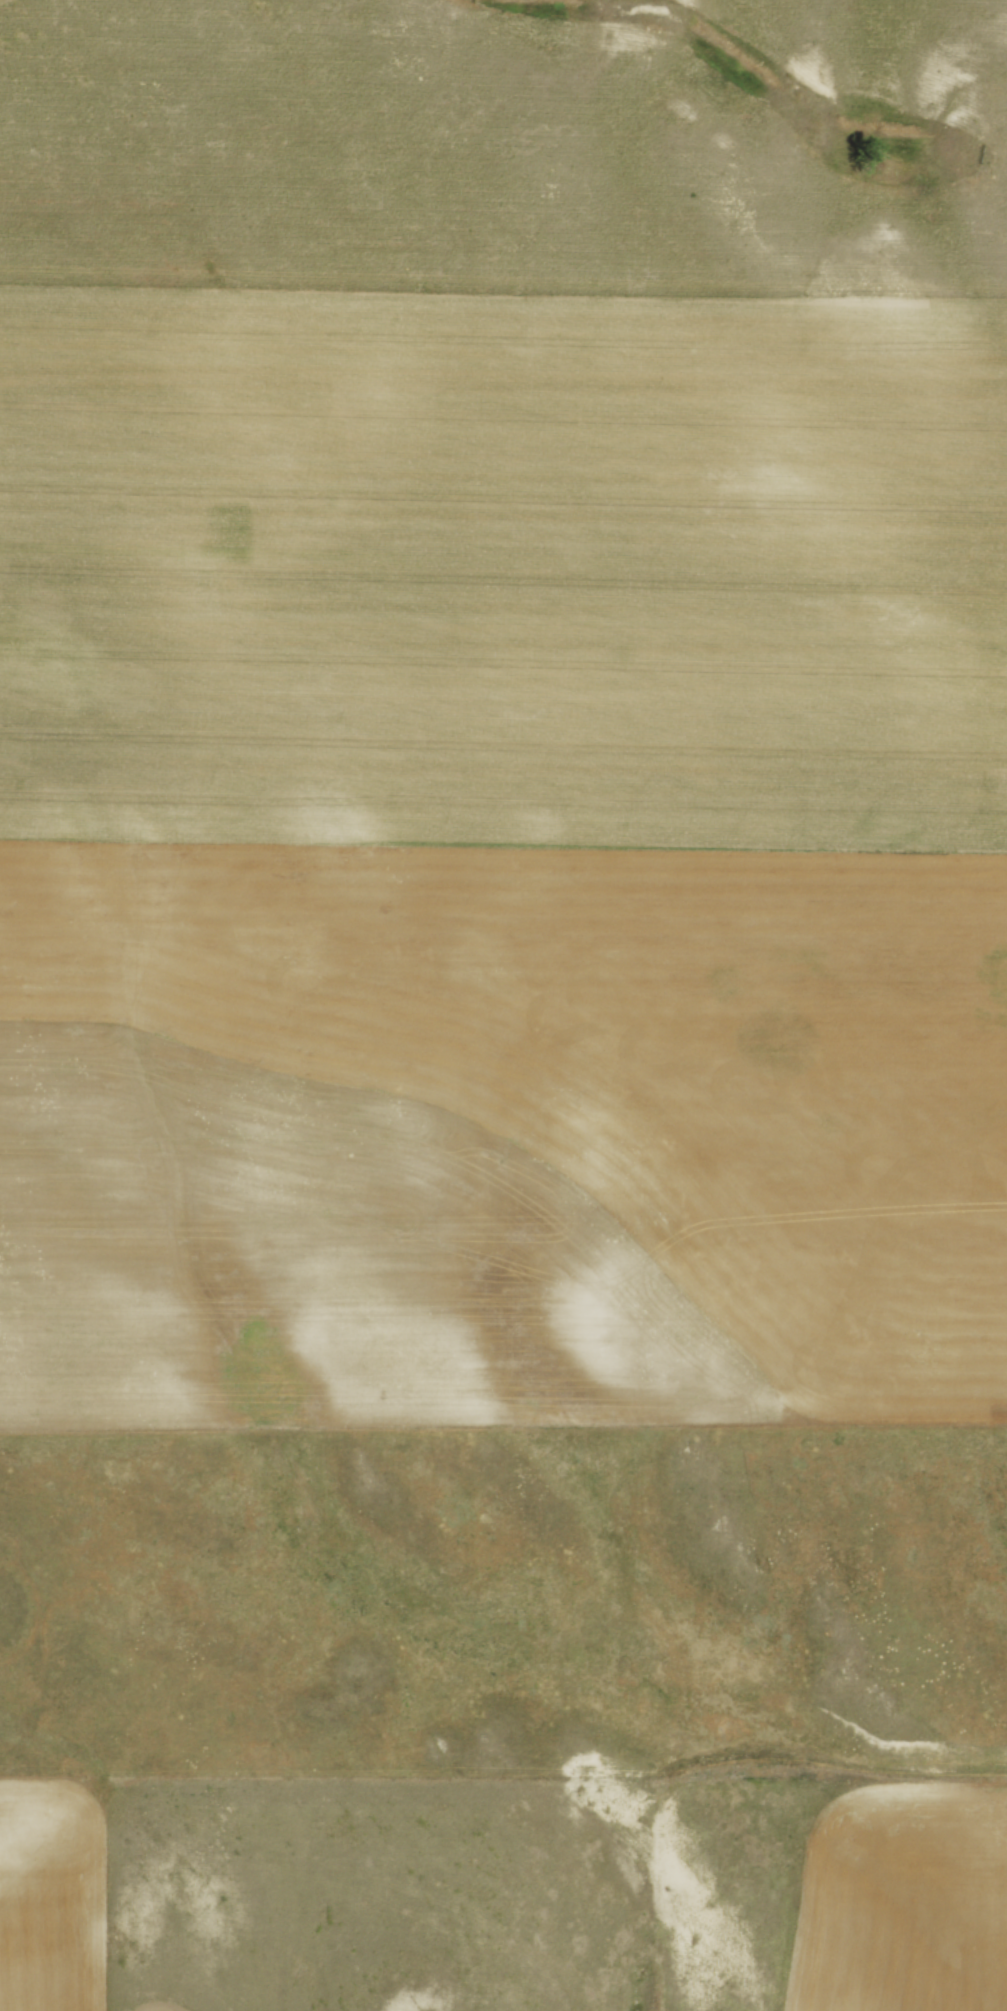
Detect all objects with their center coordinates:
crop: (501, 857)
crop: (304, 1895)
crop: (900, 1898)

